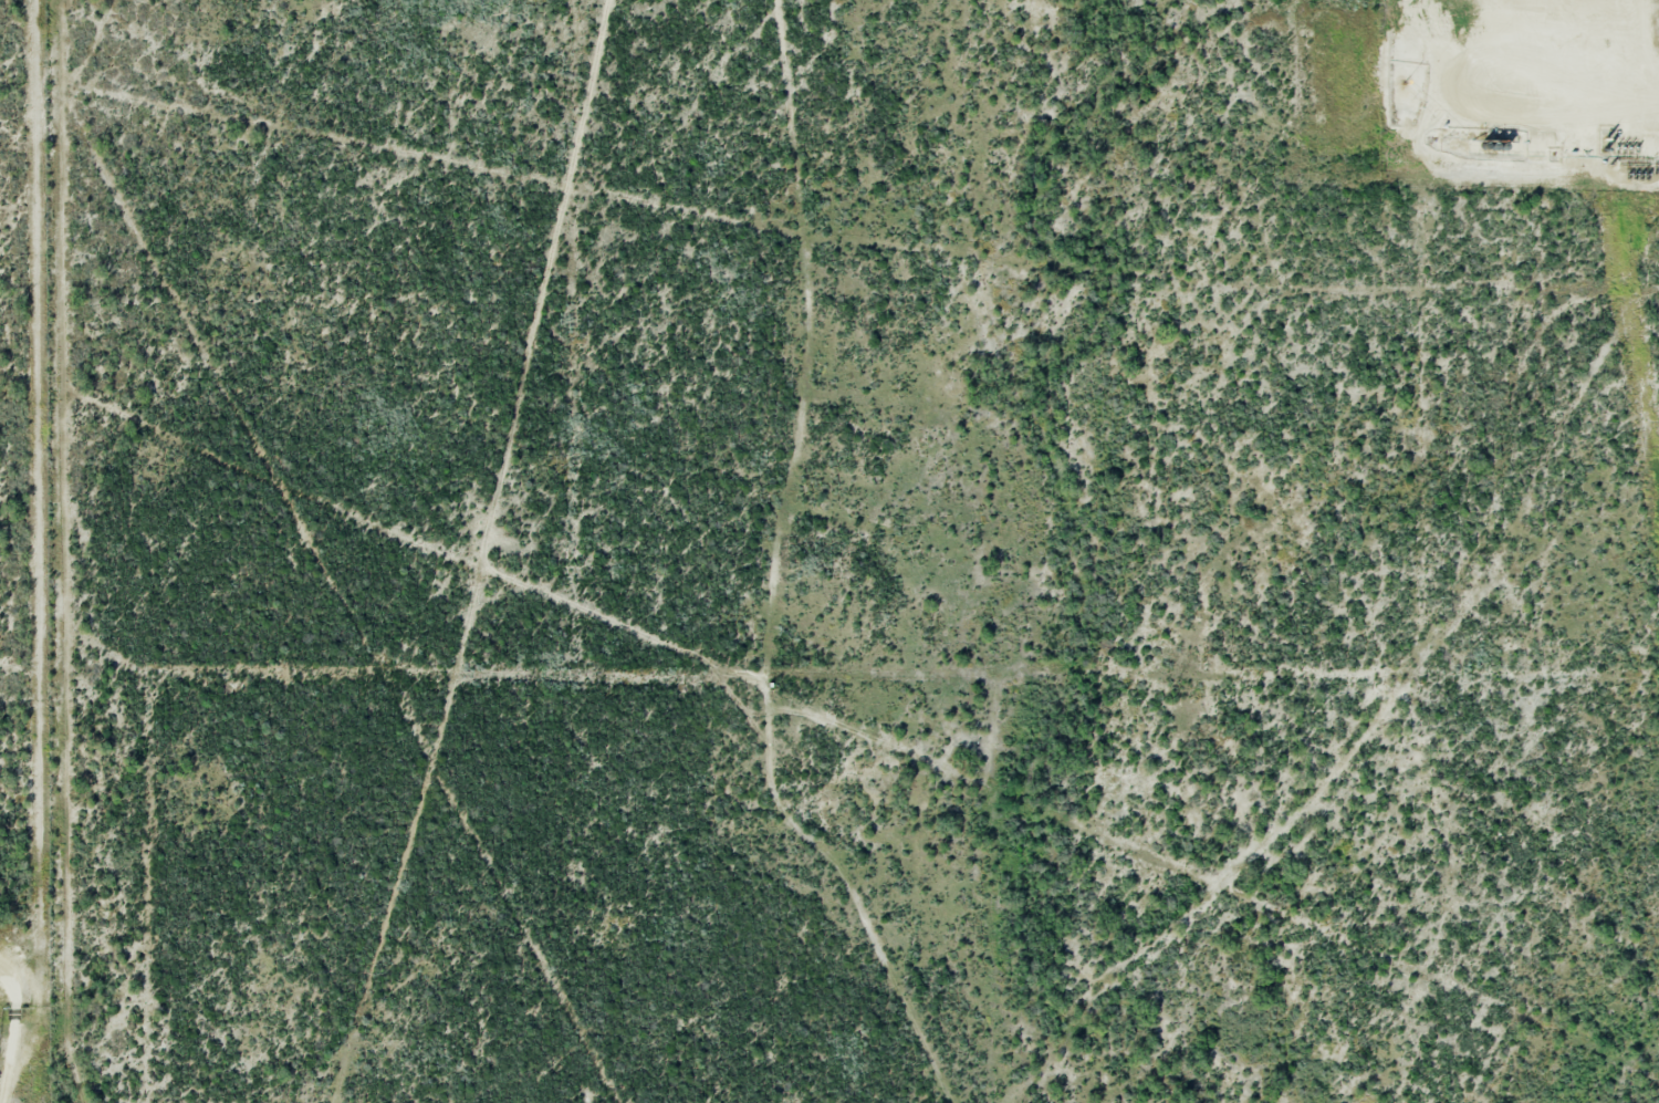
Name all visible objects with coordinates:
road: (1650, 60)

